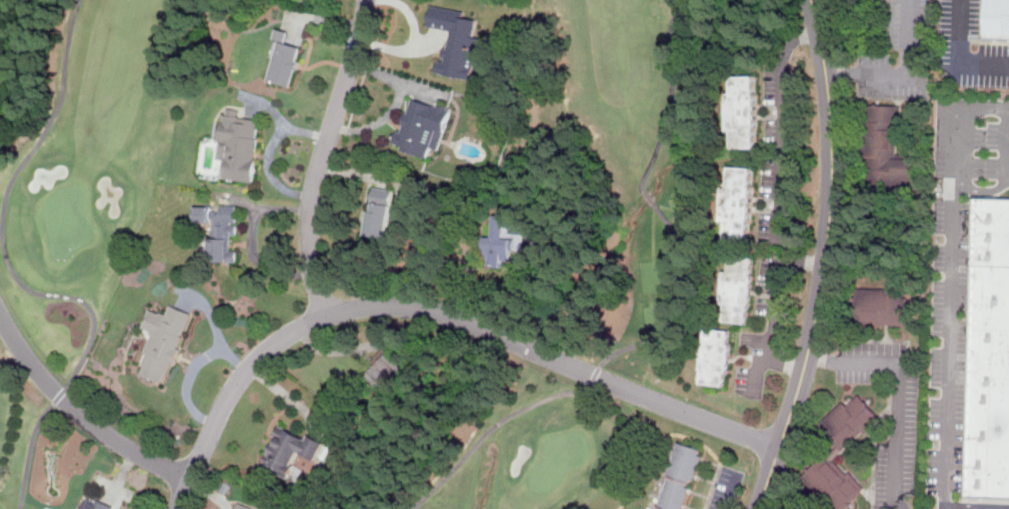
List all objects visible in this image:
building: (854, 1)
building: (997, 16)
building: (457, 41)
building: (1, 42)
road: (959, 54)
building: (284, 60)
building: (2, 67)
road: (904, 75)
road: (912, 77)
road: (670, 99)
road: (984, 107)
building: (743, 109)
road: (282, 121)
building: (423, 127)
road: (1008, 128)
building: (893, 140)
road: (1007, 141)
building: (239, 145)
road: (782, 151)
building: (885, 151)
road: (321, 156)
road: (271, 171)
road: (1008, 174)
road: (1008, 176)
road: (984, 189)
road: (650, 197)
building: (739, 202)
park: (82, 207)
building: (380, 212)
park: (69, 220)
building: (220, 230)
building: (502, 241)
road: (825, 258)
park: (601, 260)
parking lot: (957, 280)
road: (20, 281)
road: (519, 288)
building: (738, 289)
building: (882, 306)
road: (947, 308)
road: (437, 310)
road: (772, 319)
road: (215, 326)
building: (163, 341)
building: (991, 349)
road: (970, 351)
building: (716, 357)
building: (390, 374)
road: (186, 381)
road: (591, 384)
road: (900, 394)
road: (81, 413)
building: (849, 420)
road: (678, 435)
building: (291, 450)
park: (560, 458)
road: (709, 462)
building: (834, 463)
building: (681, 474)
road: (704, 479)
building: (831, 482)
road: (731, 491)
road: (697, 494)
building: (89, 507)
building: (241, 507)
road: (686, 507)

